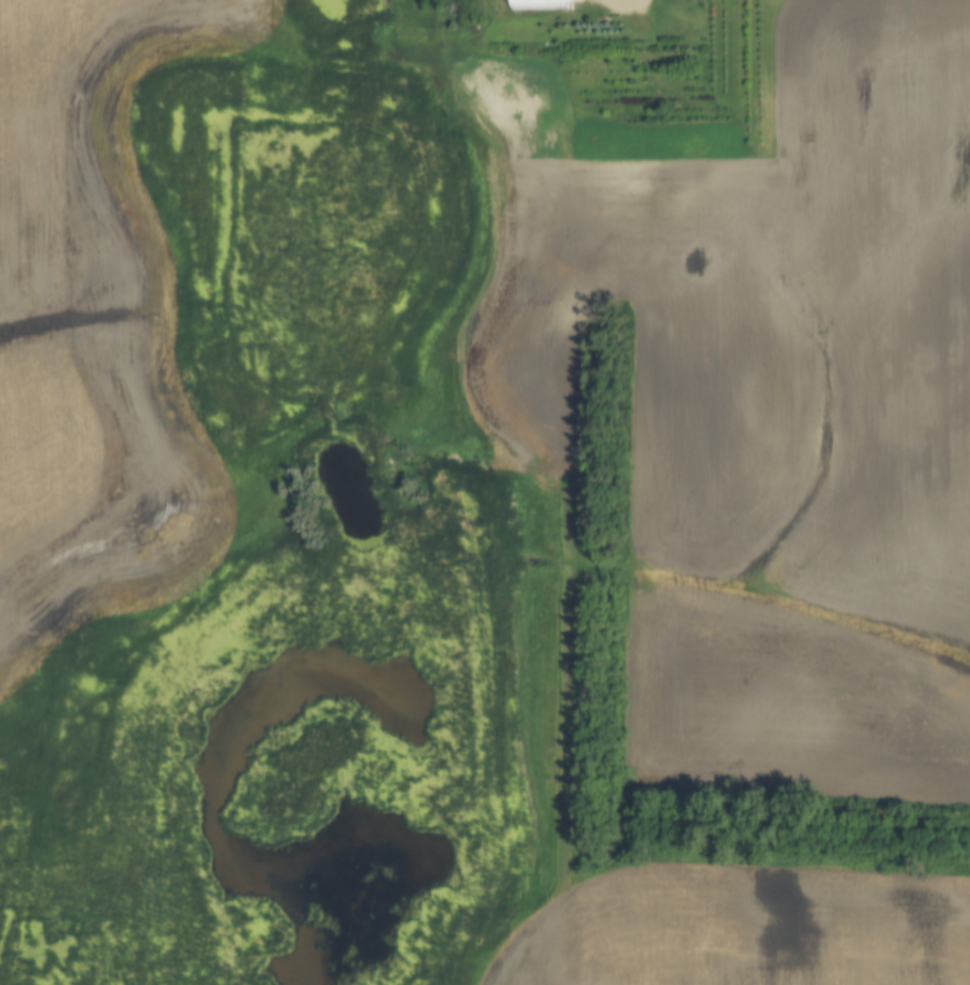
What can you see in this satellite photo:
building: (540, 5)
road: (646, 35)

